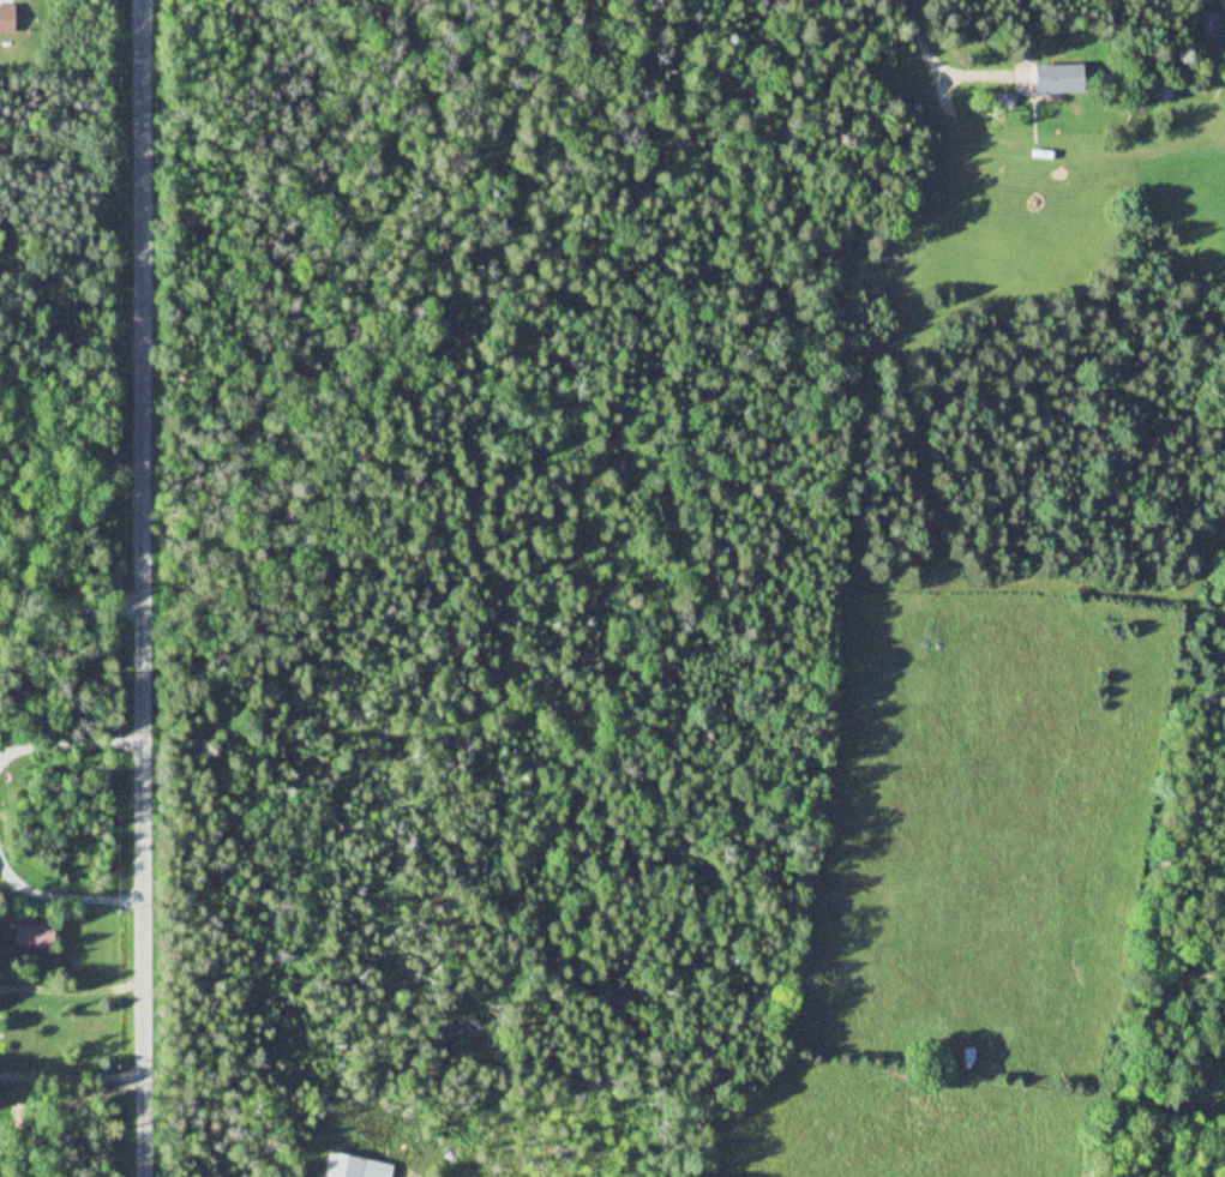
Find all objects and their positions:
building: (7, 20)
building: (1213, 24)
building: (1062, 80)
road: (140, 588)
building: (35, 936)
building: (355, 1167)

